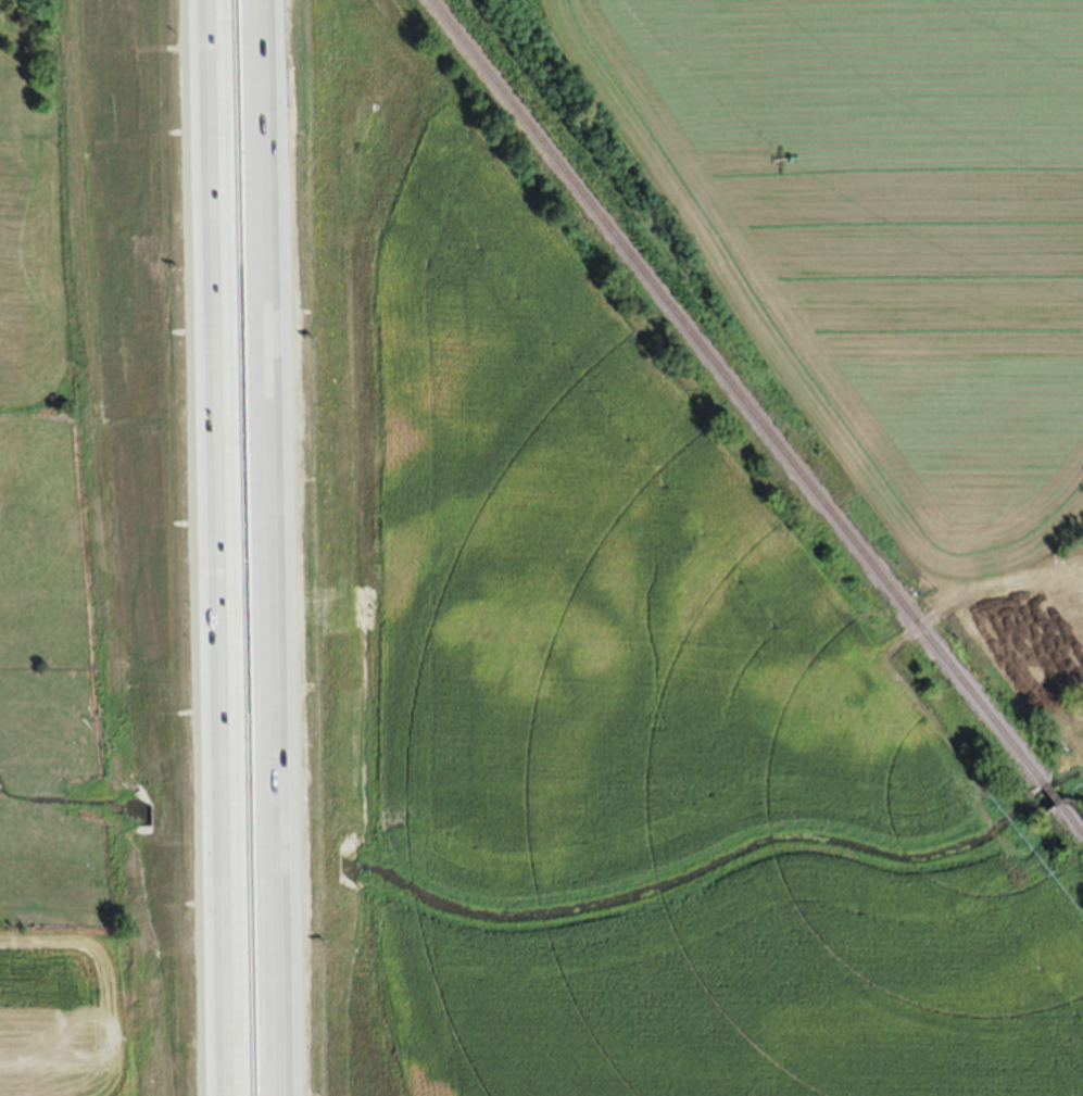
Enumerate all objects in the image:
railway: (739, 391)
road: (224, 547)
road: (274, 547)
road: (973, 589)
crop: (67, 609)
railway: (1054, 792)
railway: (1072, 816)

